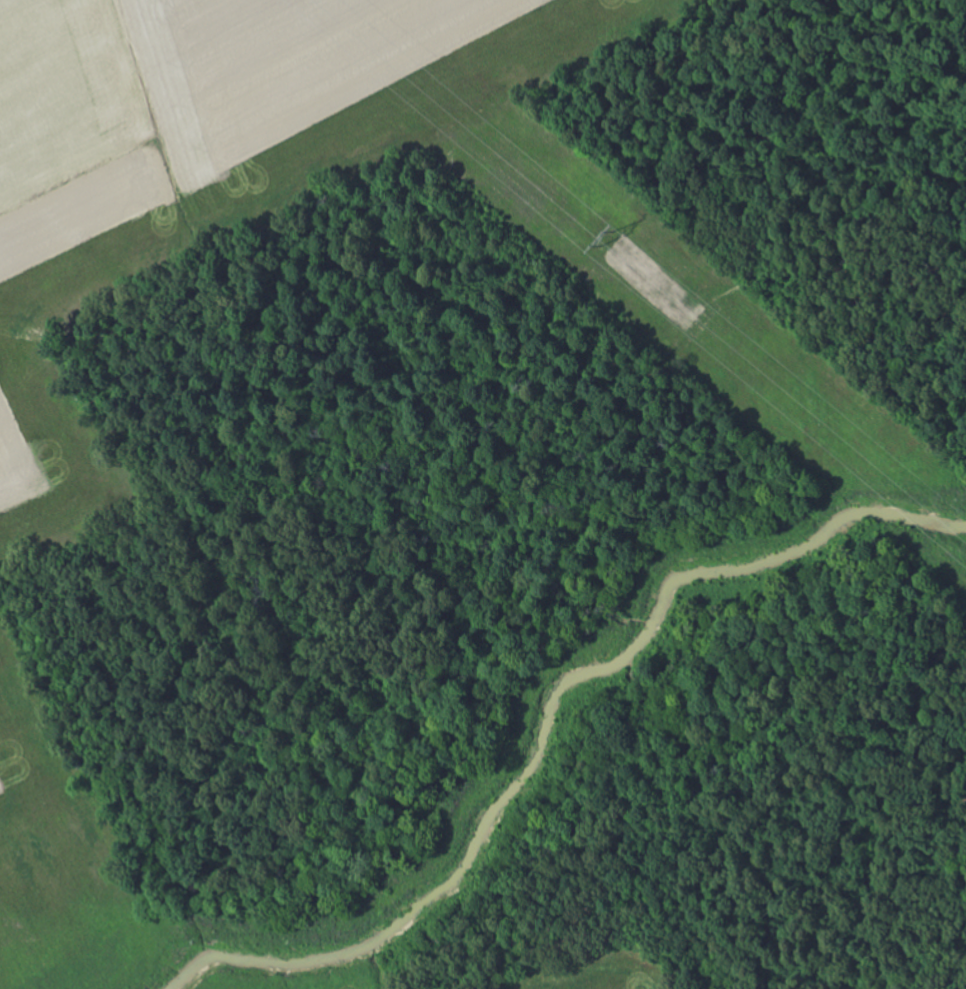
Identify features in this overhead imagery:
power tower: (608, 242)

